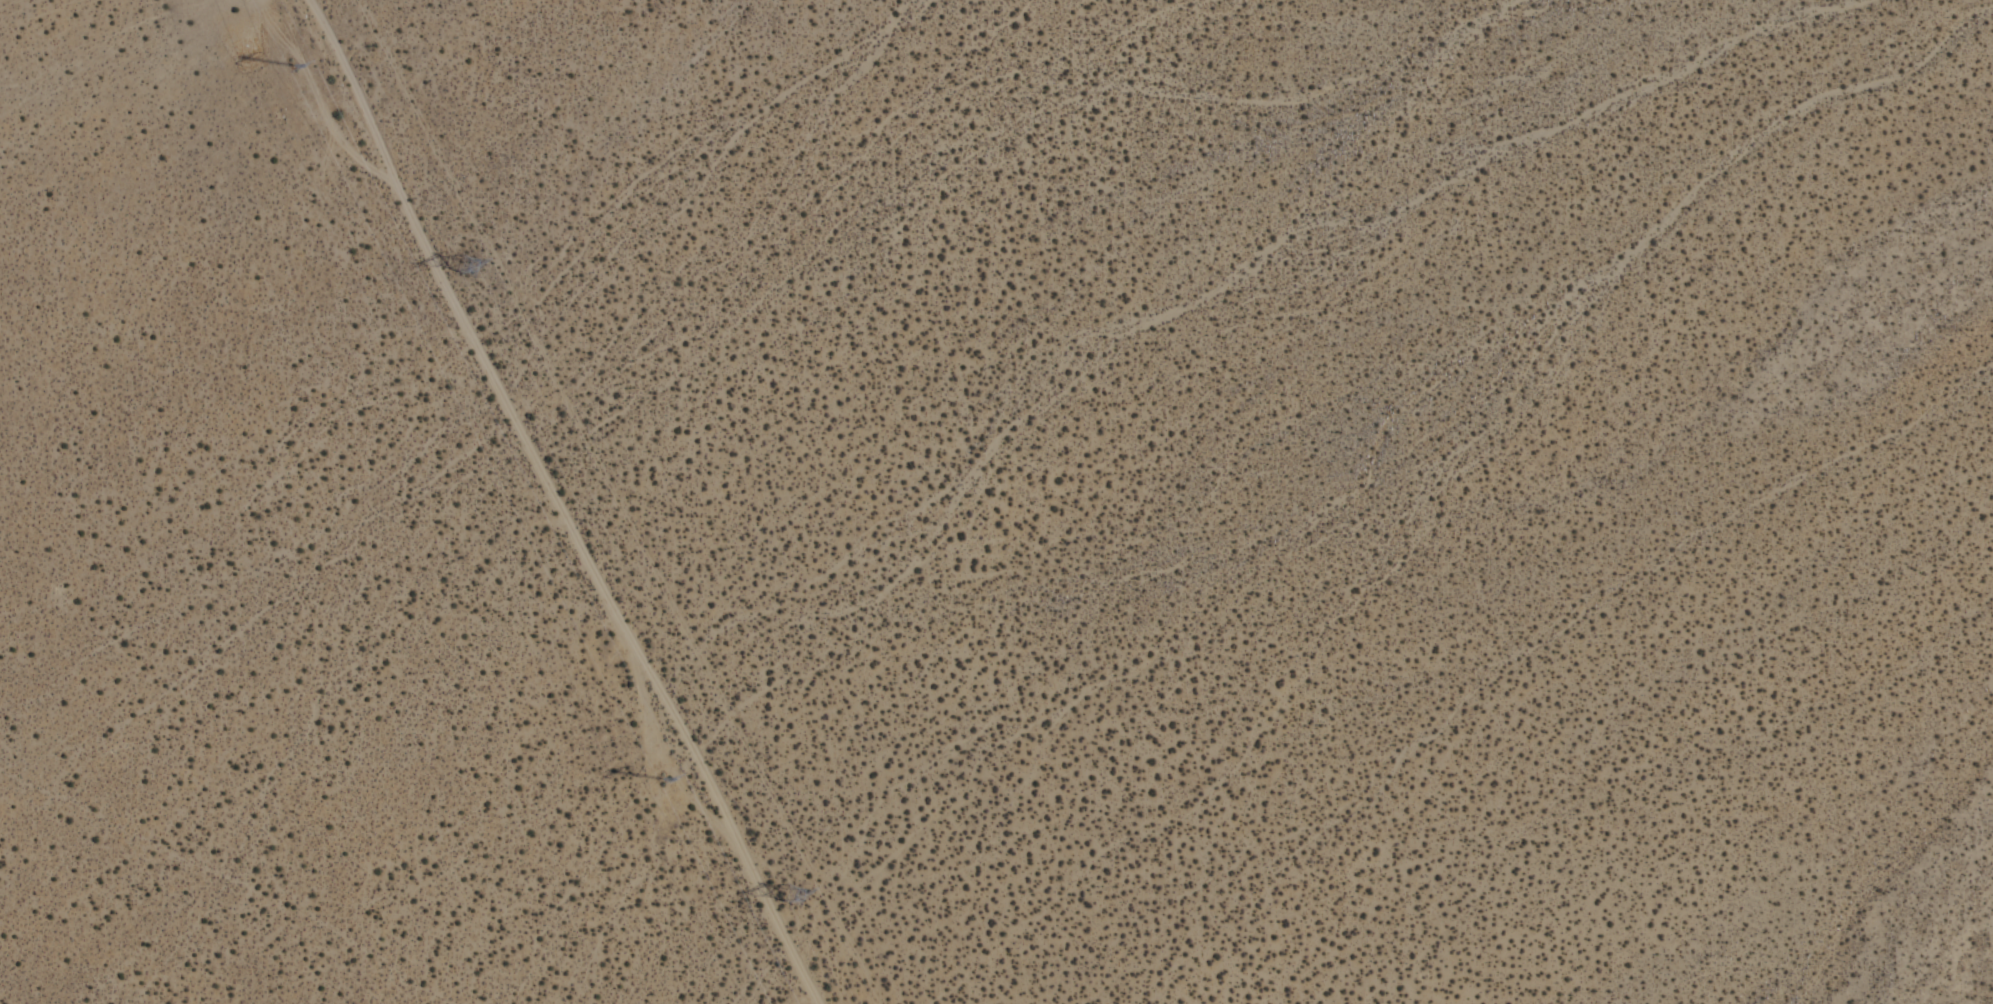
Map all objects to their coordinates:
power tower: (291, 69)
power tower: (467, 265)
road: (562, 502)
power tower: (647, 779)
power tower: (790, 889)

